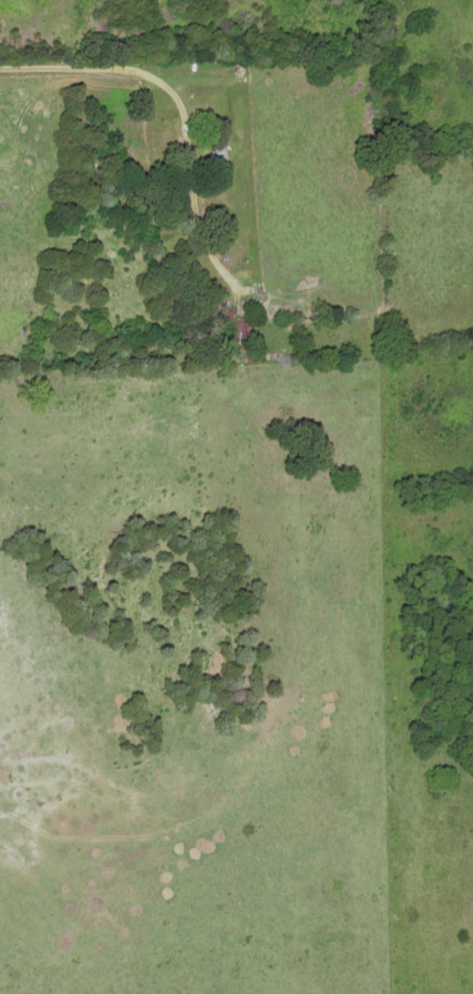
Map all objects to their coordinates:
building: (217, 146)
road: (174, 180)
building: (235, 323)

